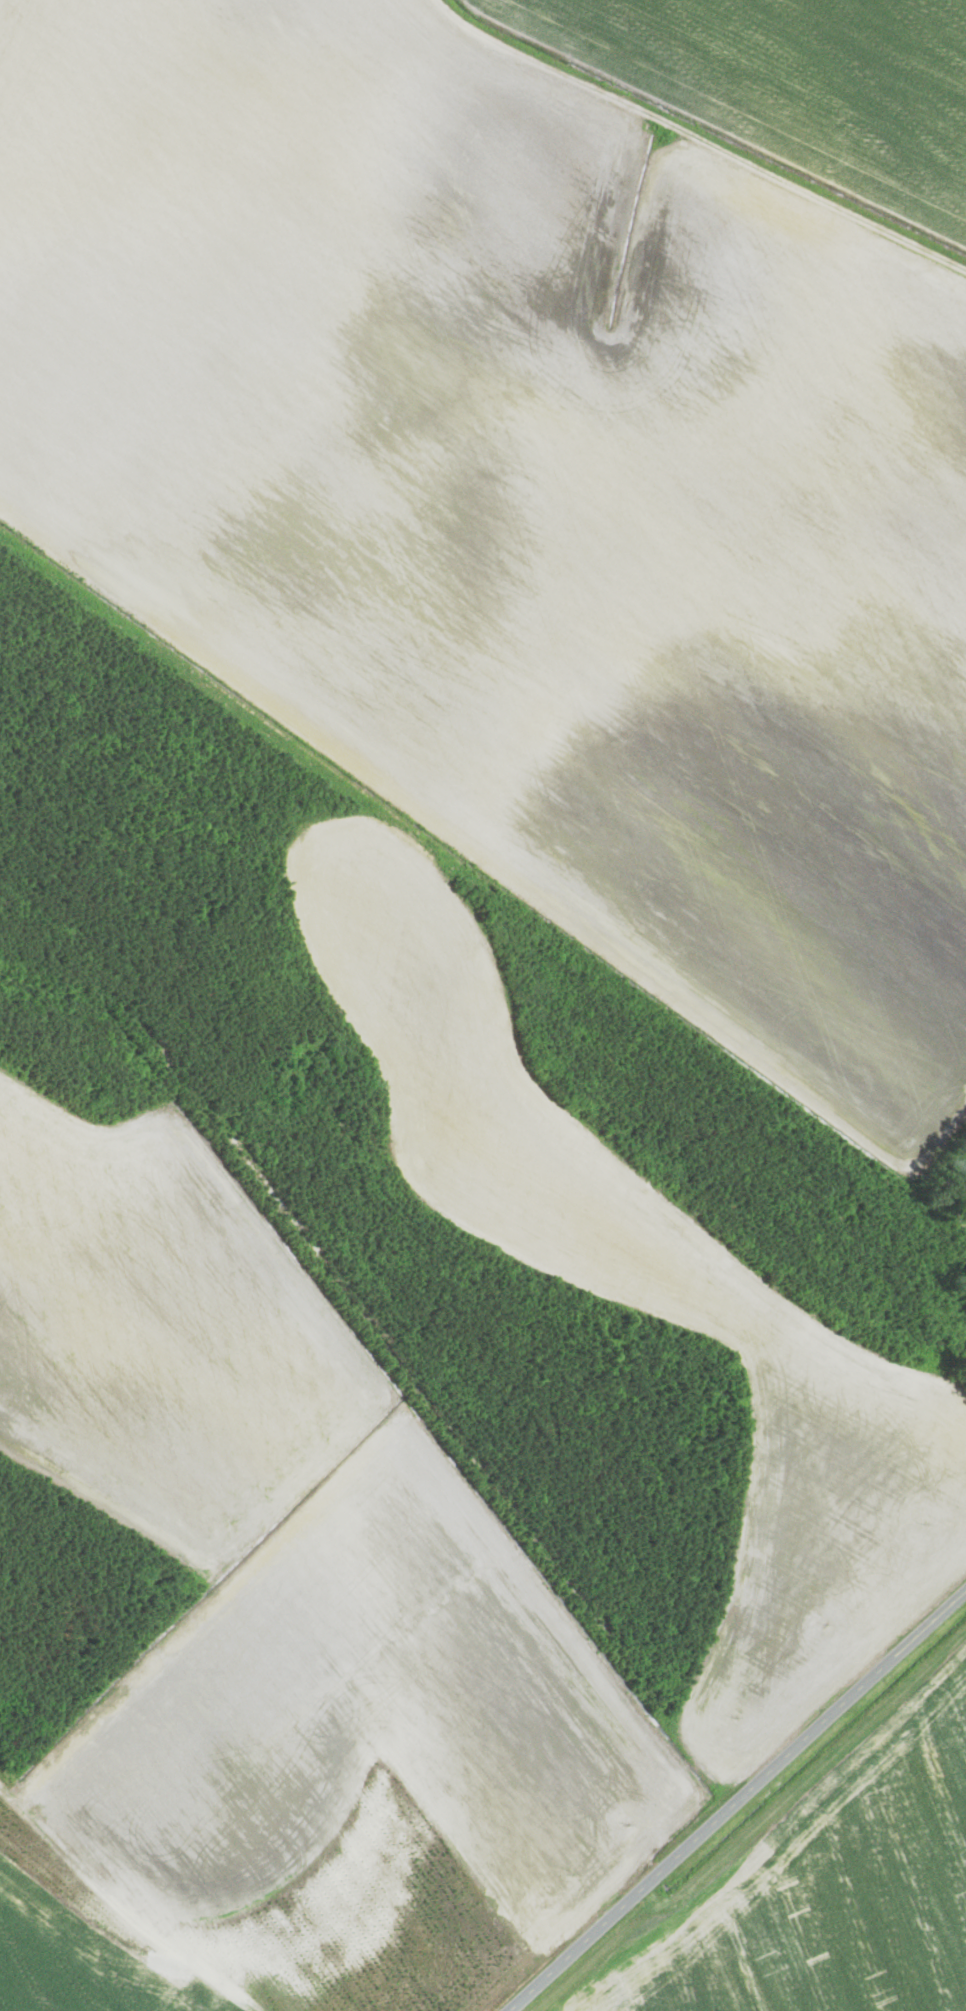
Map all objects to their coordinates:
road: (737, 1800)

